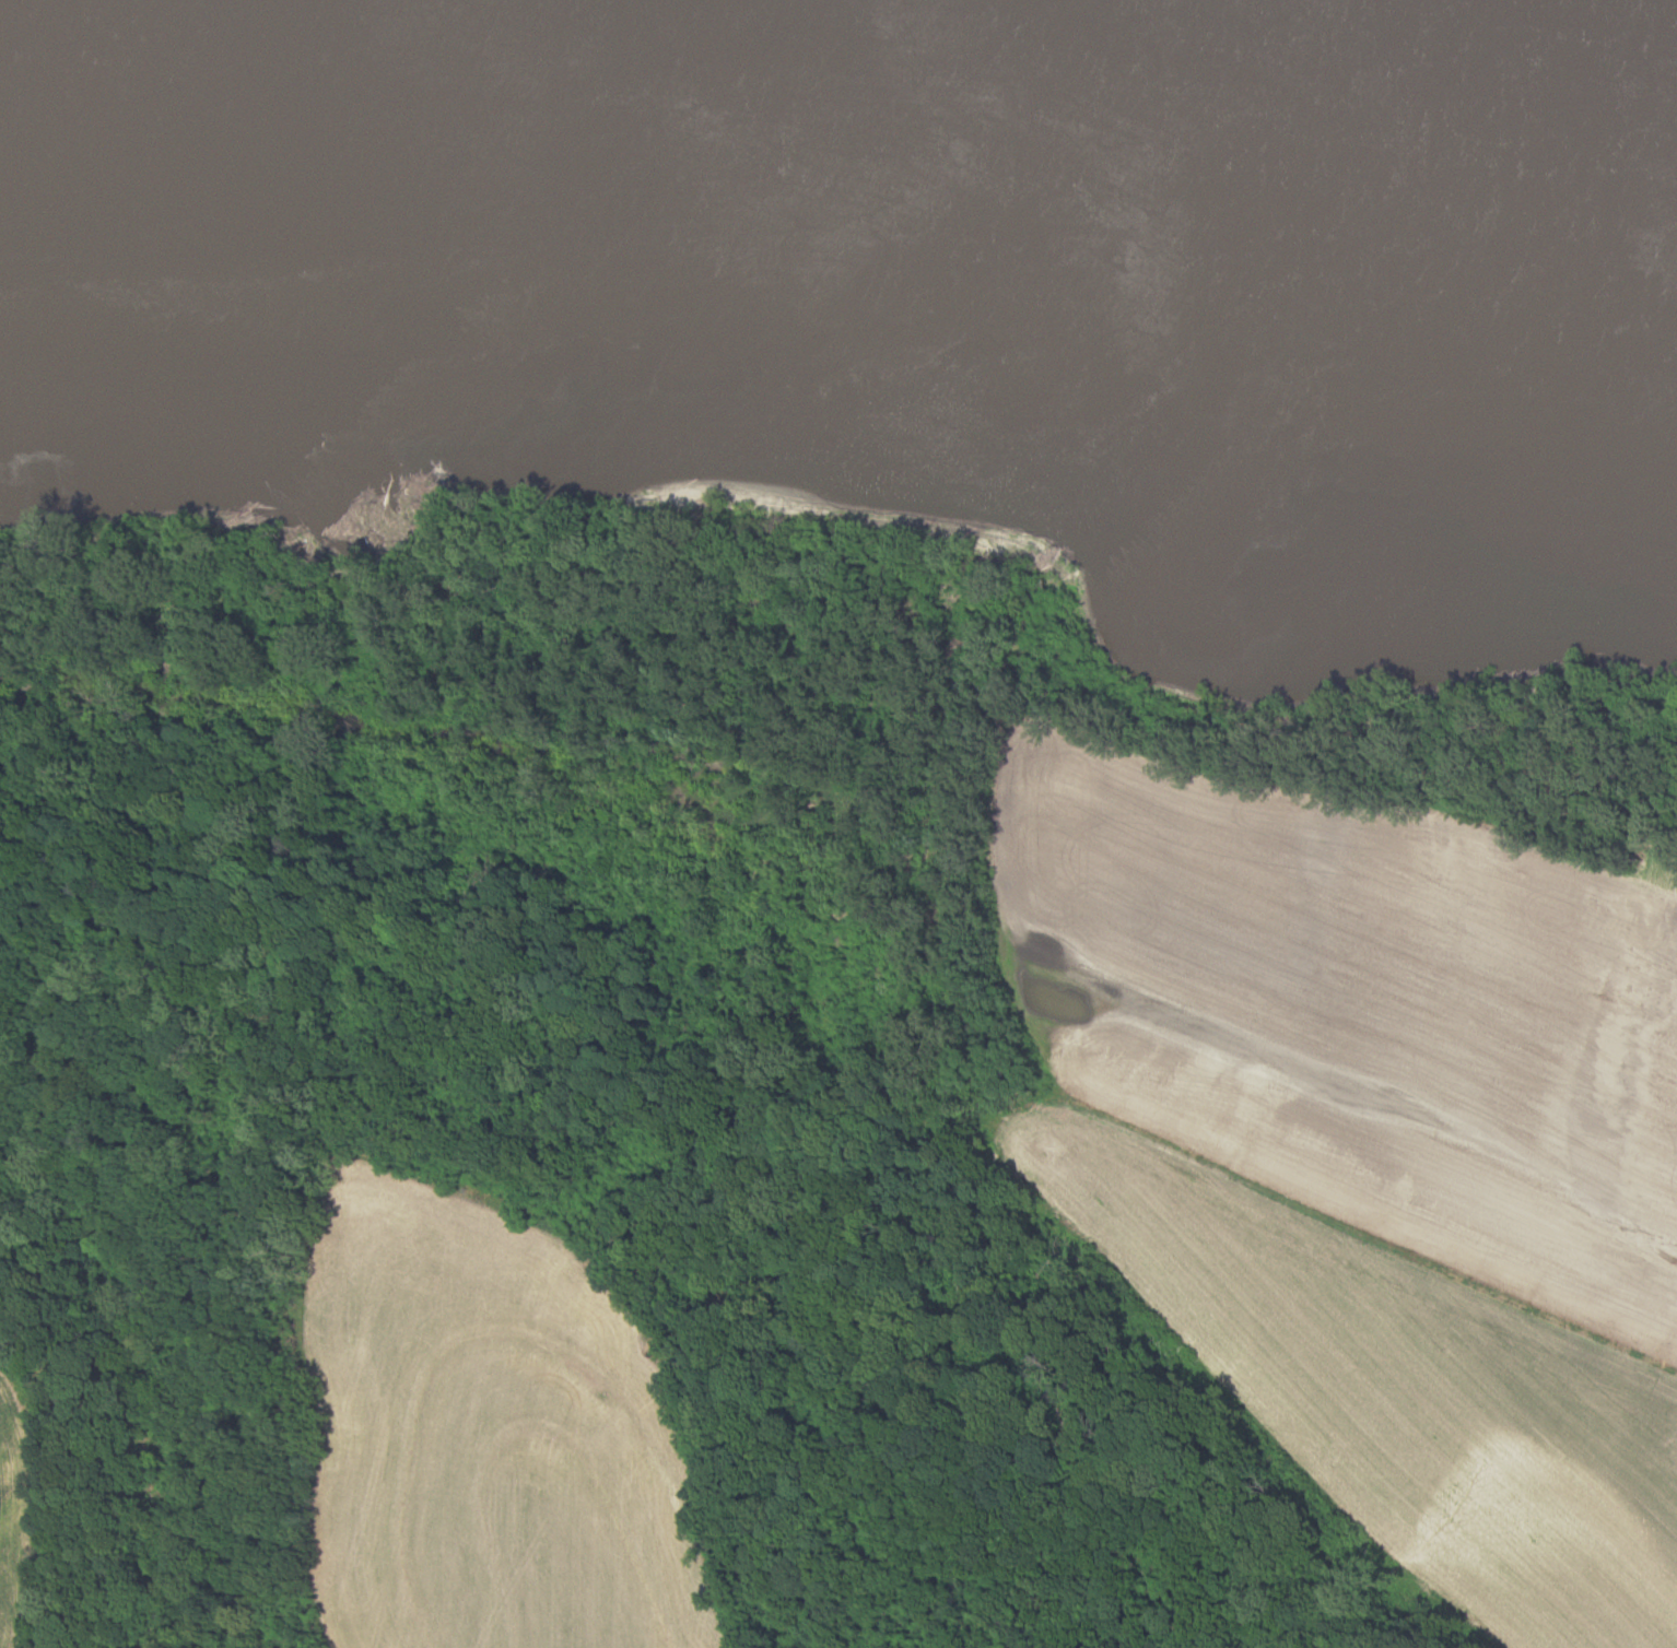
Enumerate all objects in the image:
river: (845, 155)
crop: (1358, 1149)
crop: (490, 1429)
crop: (31, 1498)

